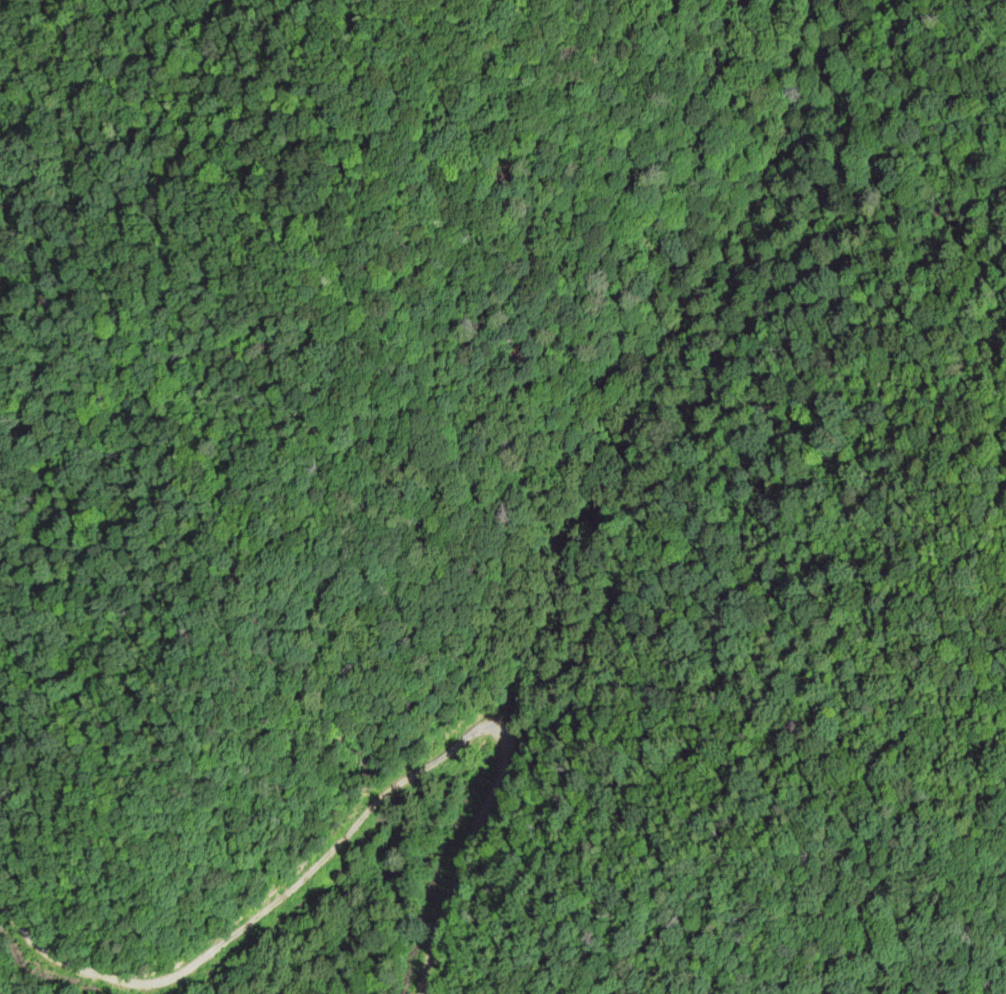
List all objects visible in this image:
road: (362, 817)

